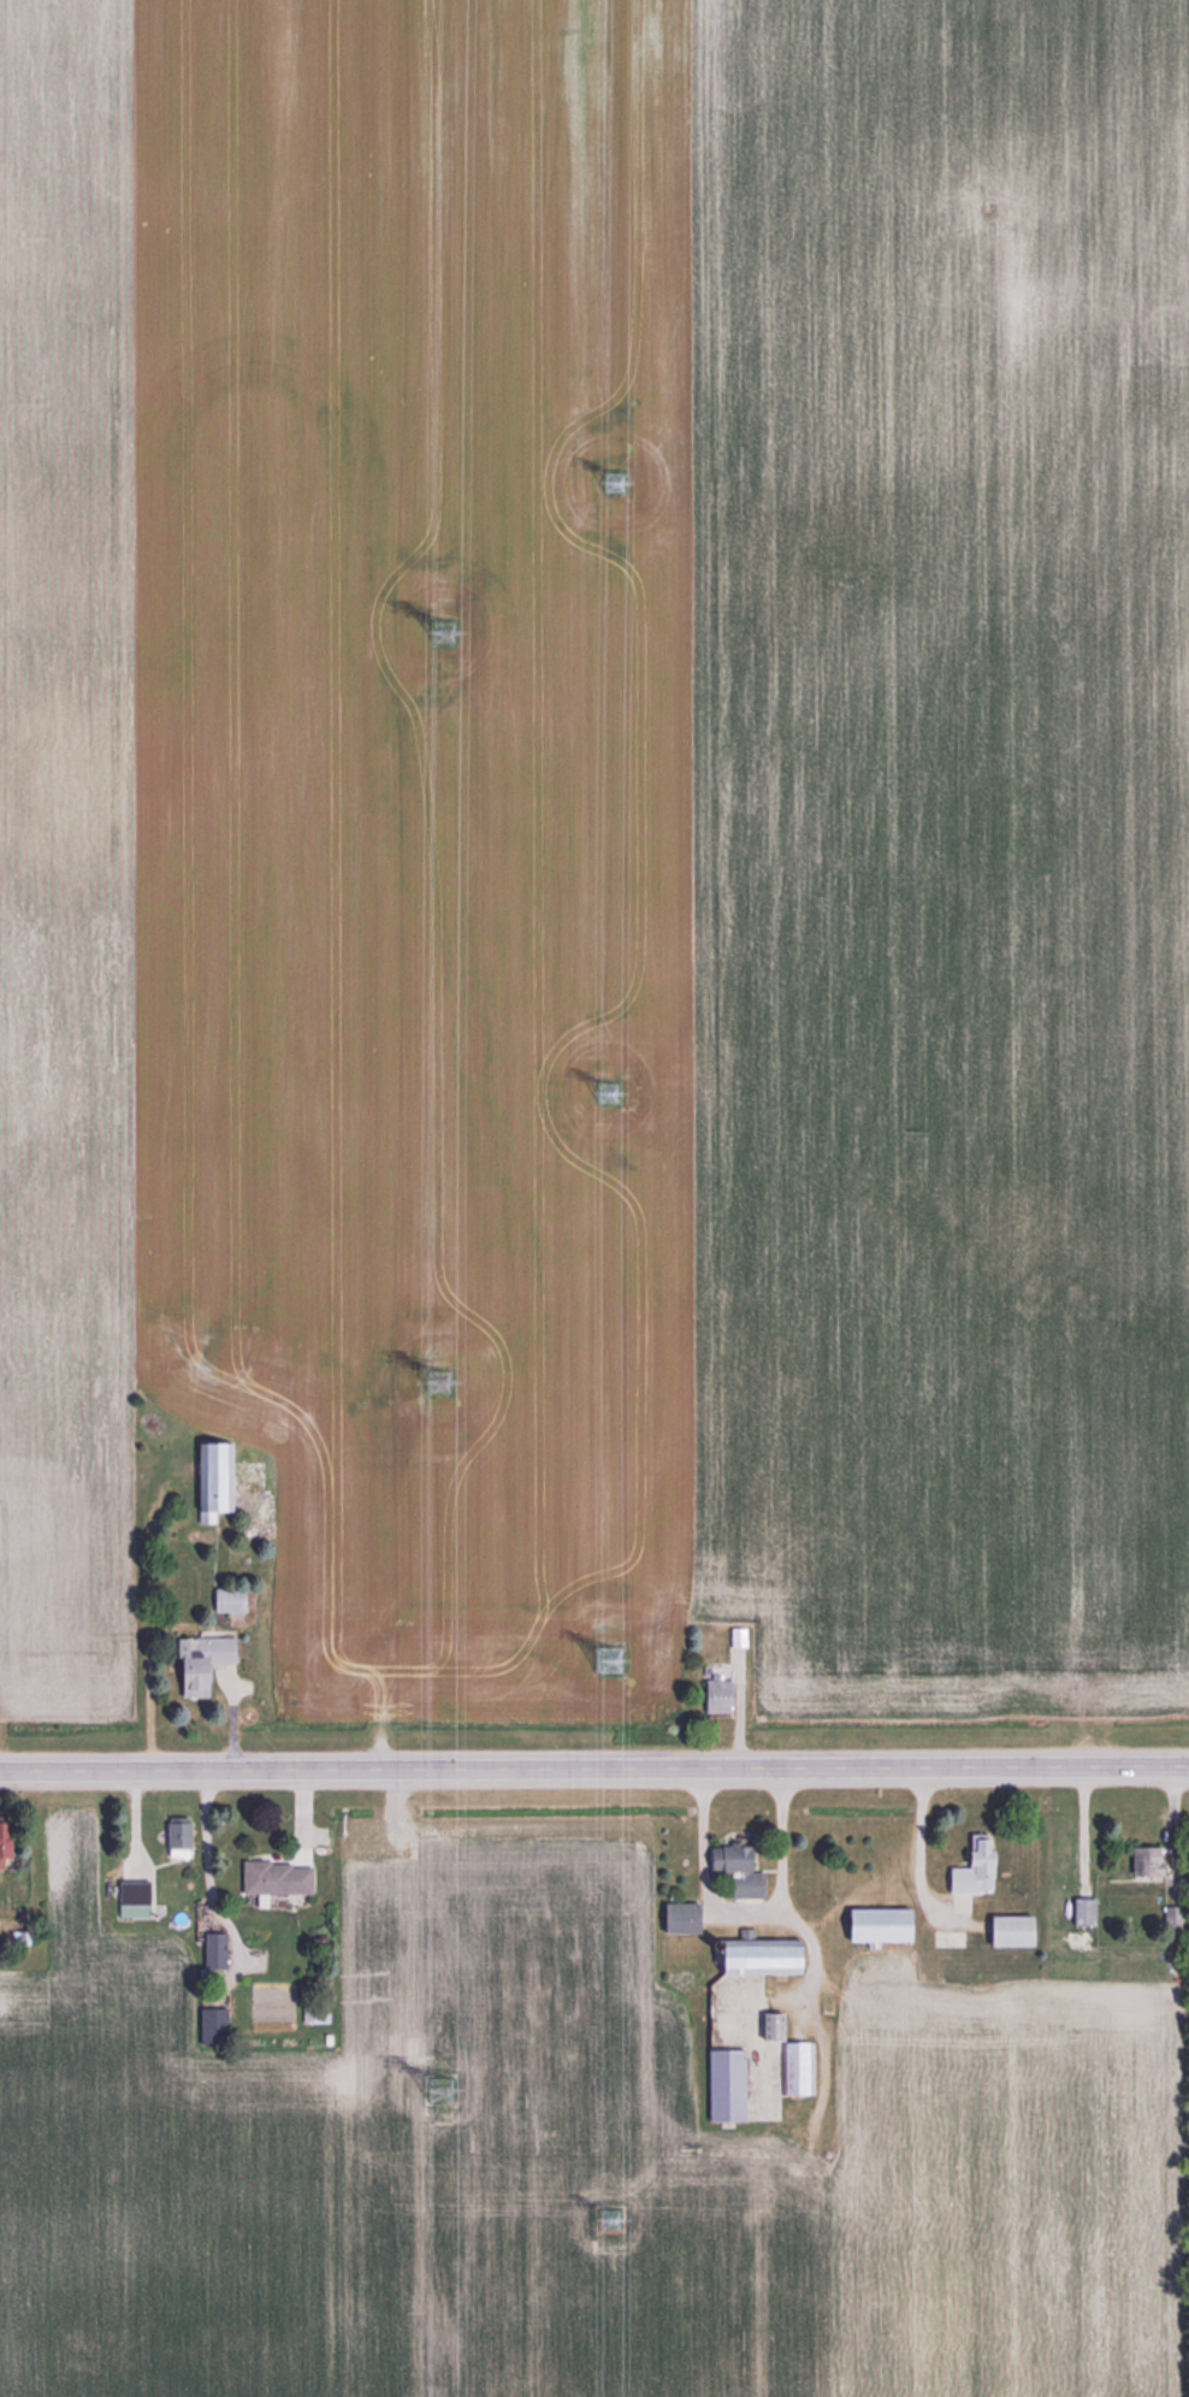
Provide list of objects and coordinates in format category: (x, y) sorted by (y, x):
power tower: (616, 478)
power tower: (440, 634)
power tower: (607, 1094)
power tower: (433, 1382)
building: (209, 1480)
building: (221, 1600)
power tower: (607, 1658)
building: (199, 1663)
building: (714, 1695)
road: (594, 1770)
building: (174, 1837)
building: (1, 1844)
road: (917, 1847)
building: (1143, 1860)
building: (972, 1866)
building: (733, 1870)
building: (273, 1878)
building: (130, 1900)
road: (740, 1905)
building: (1082, 1911)
building: (678, 1917)
building: (874, 1925)
building: (1007, 1930)
road: (804, 1936)
building: (211, 1950)
building: (755, 1956)
building: (209, 2025)
building: (768, 2026)
building: (797, 2068)
building: (723, 2085)
power tower: (438, 2090)
power tower: (614, 2226)

